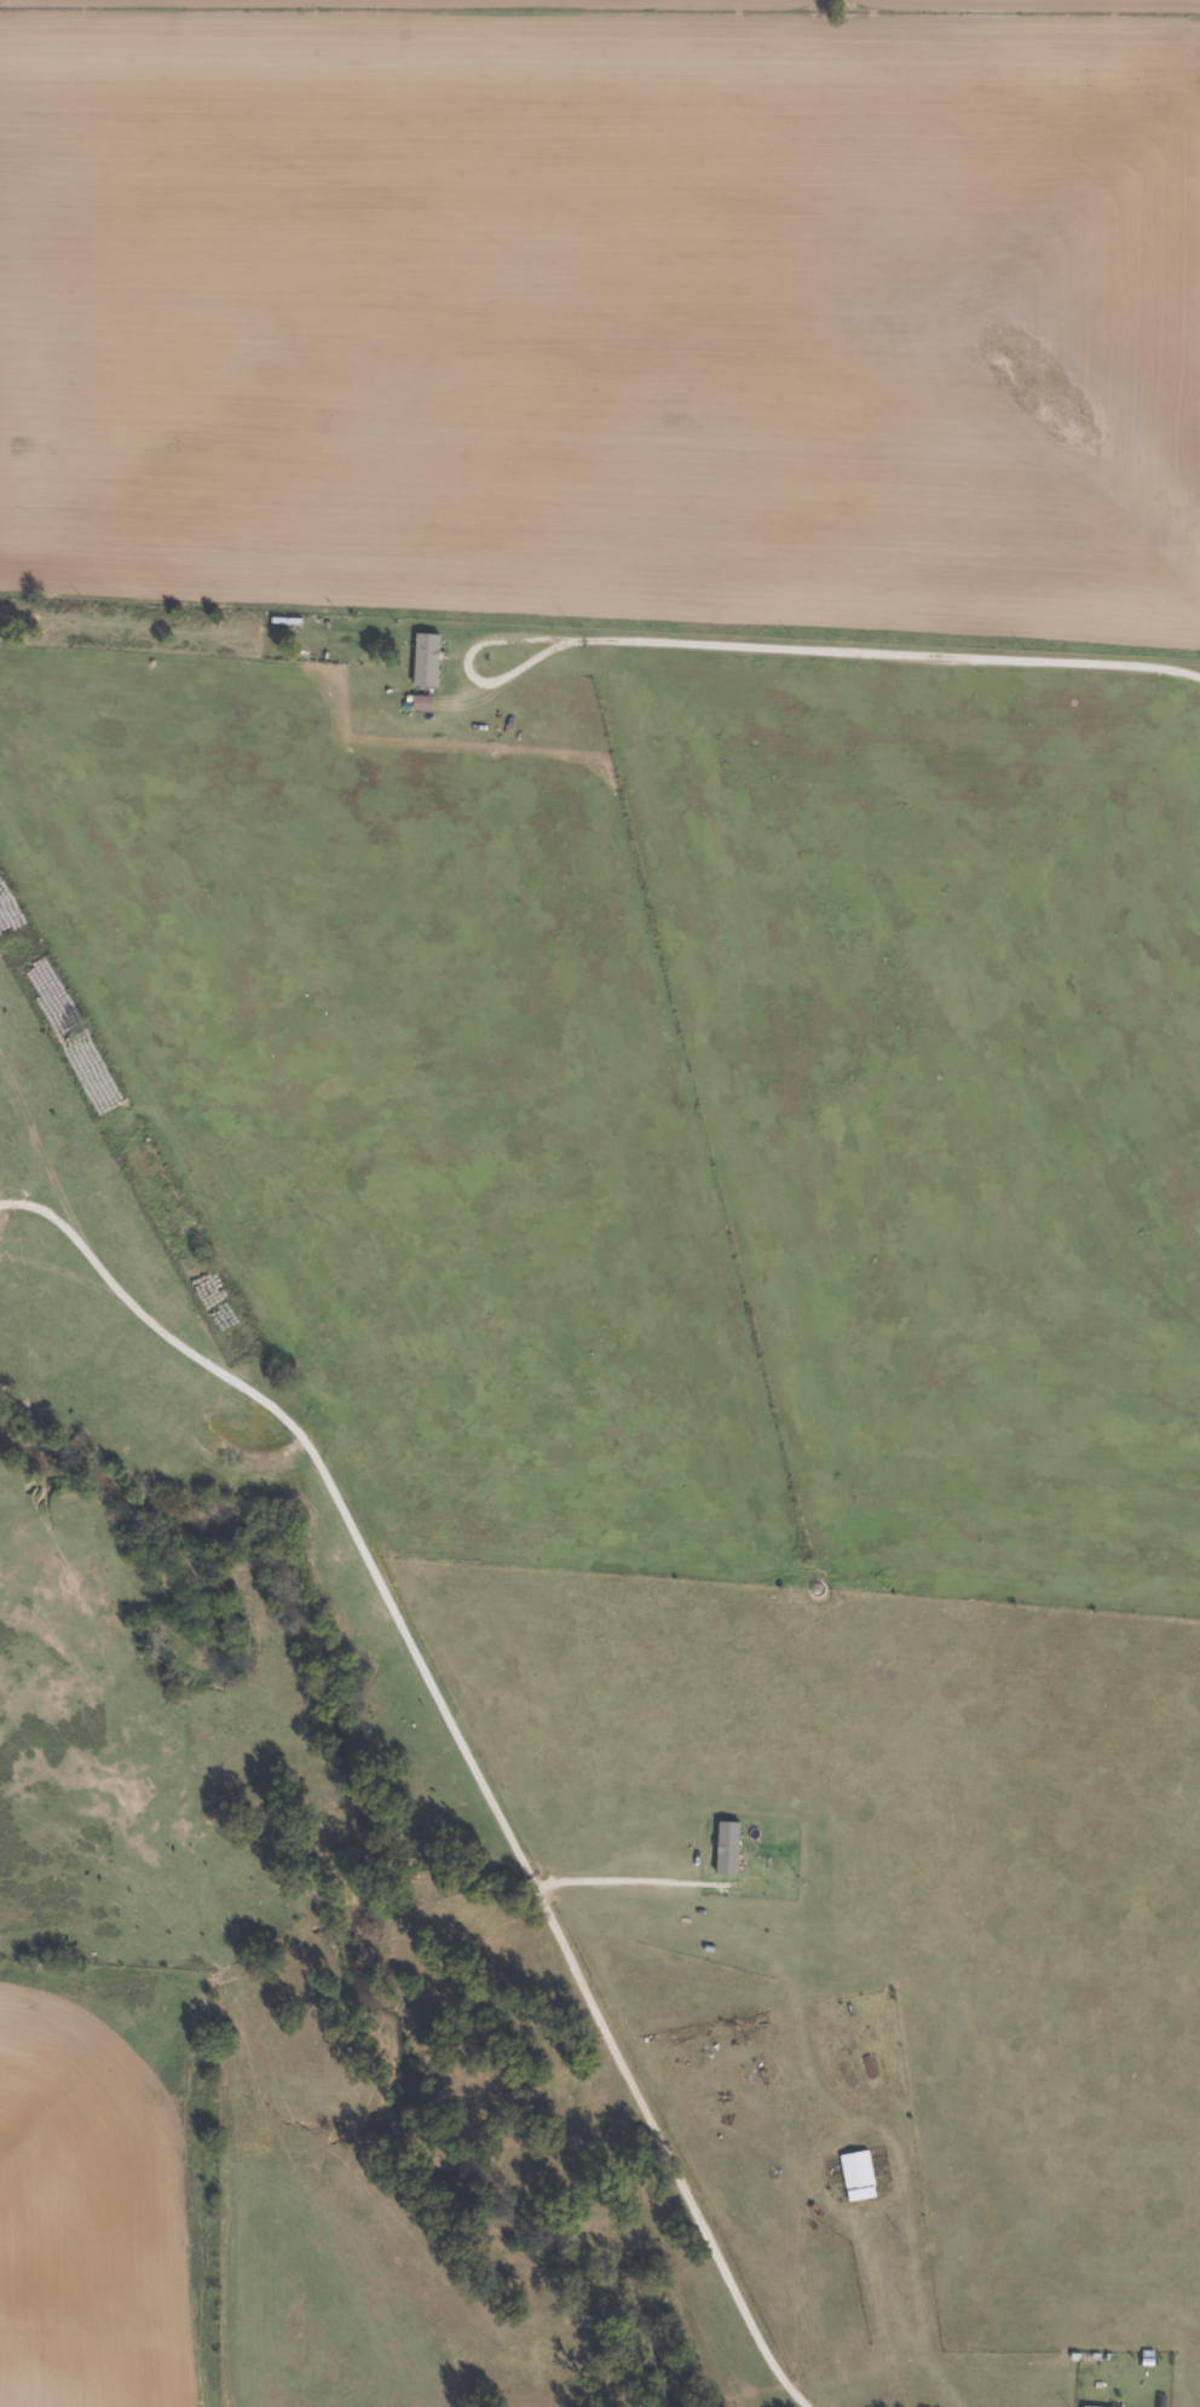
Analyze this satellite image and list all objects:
building: (861, 2175)
building: (1107, 2406)

